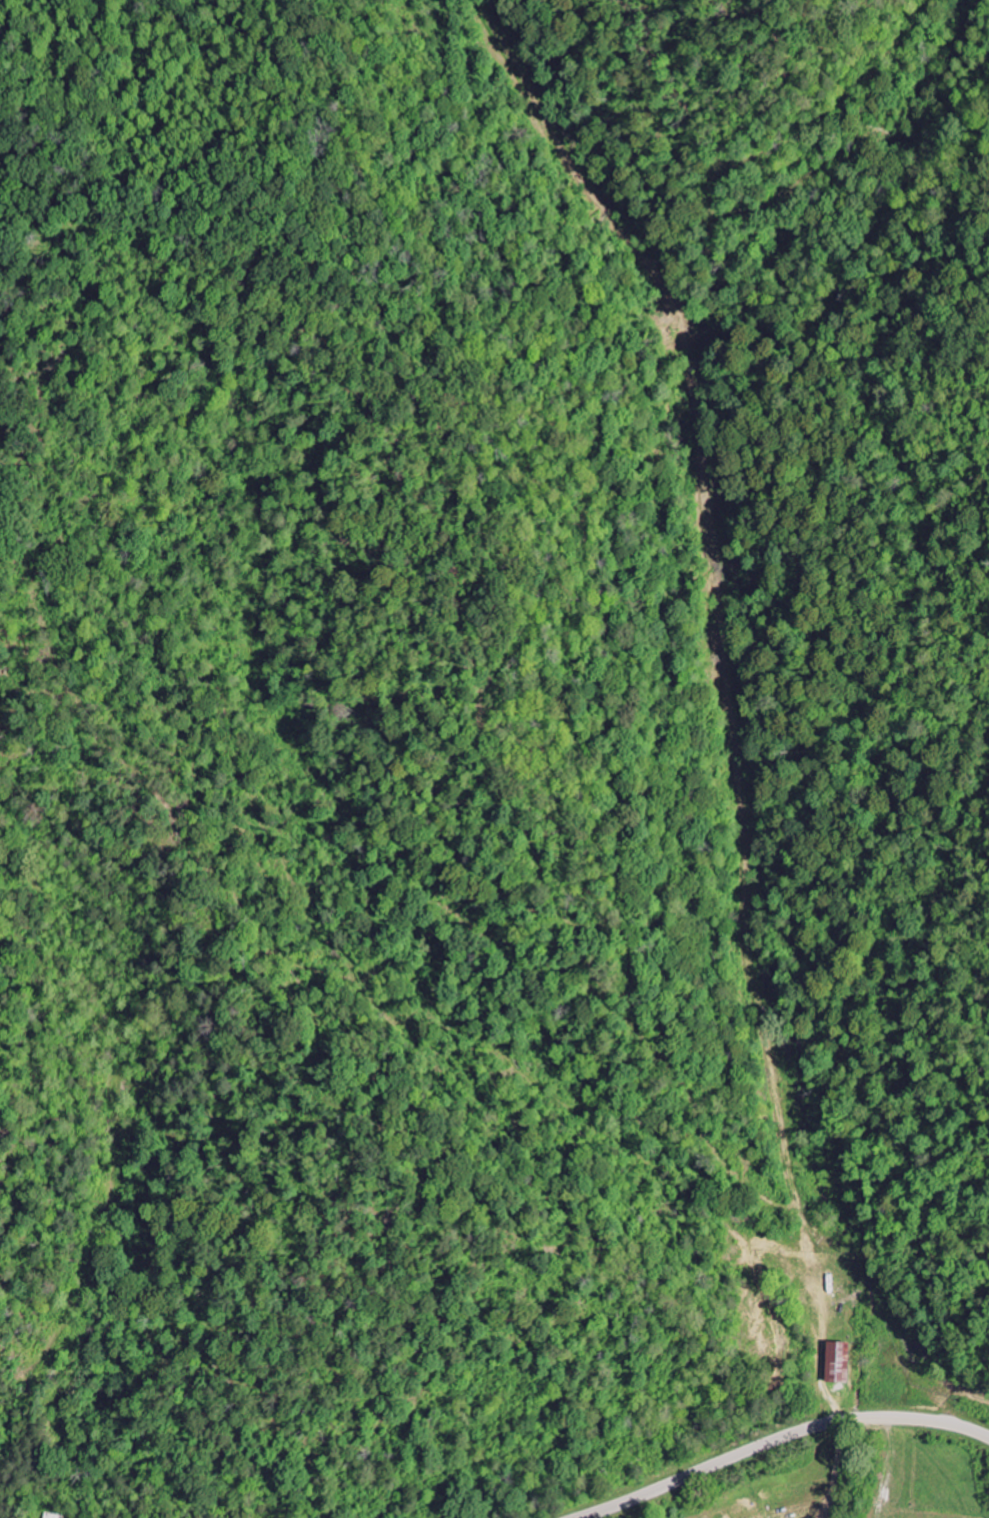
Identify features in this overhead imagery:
building: (842, 1361)
road: (778, 1438)

